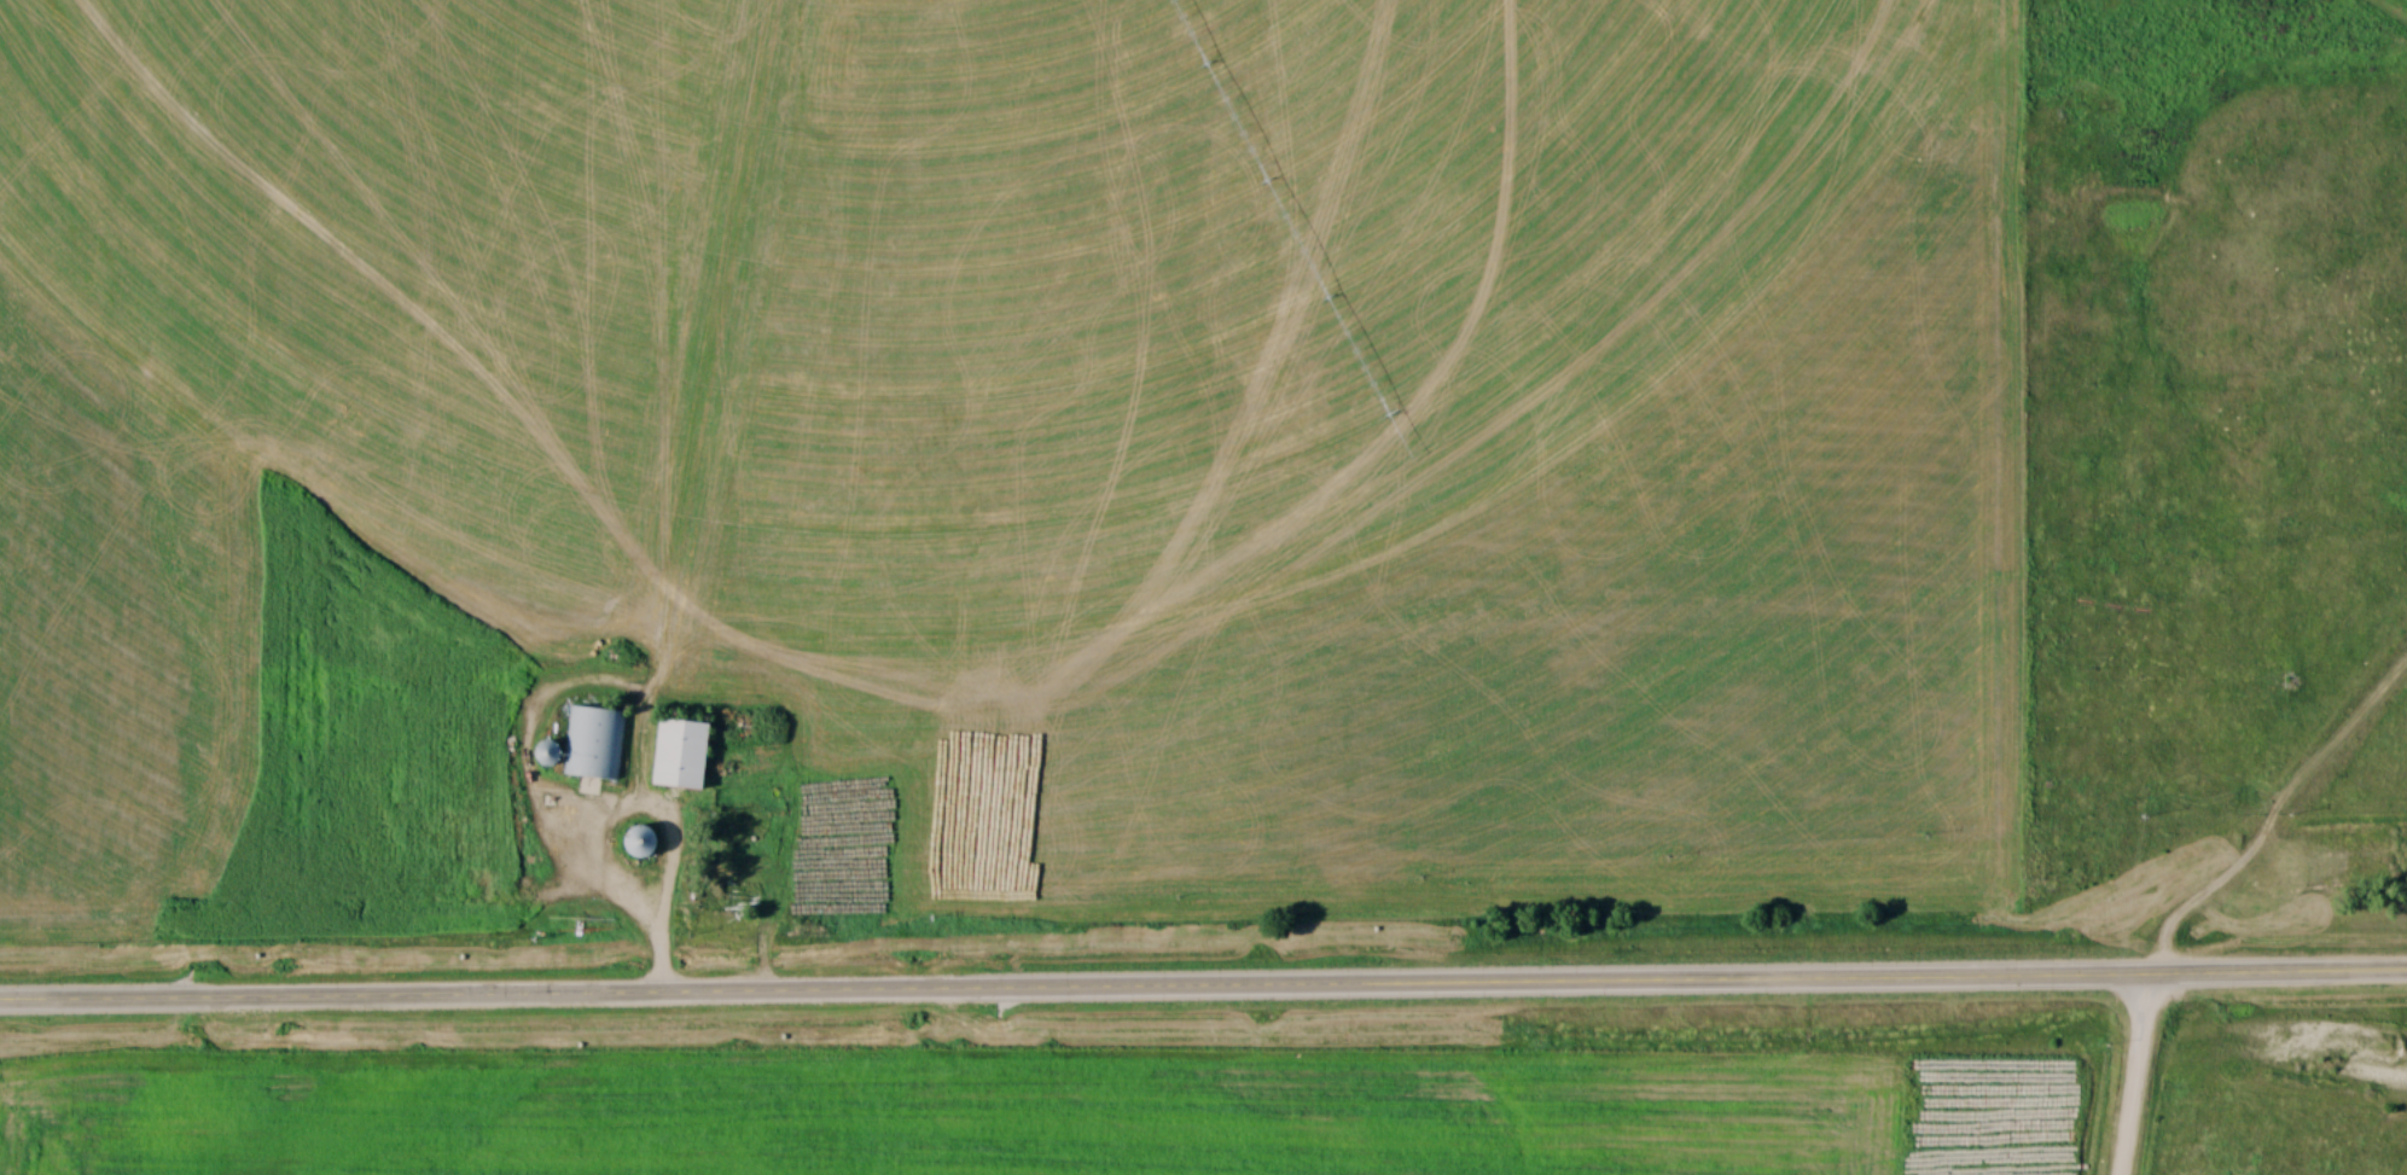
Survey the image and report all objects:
building: (595, 745)
building: (679, 755)
road: (658, 816)
building: (643, 842)
road: (663, 958)
road: (1203, 991)
road: (2134, 1077)

